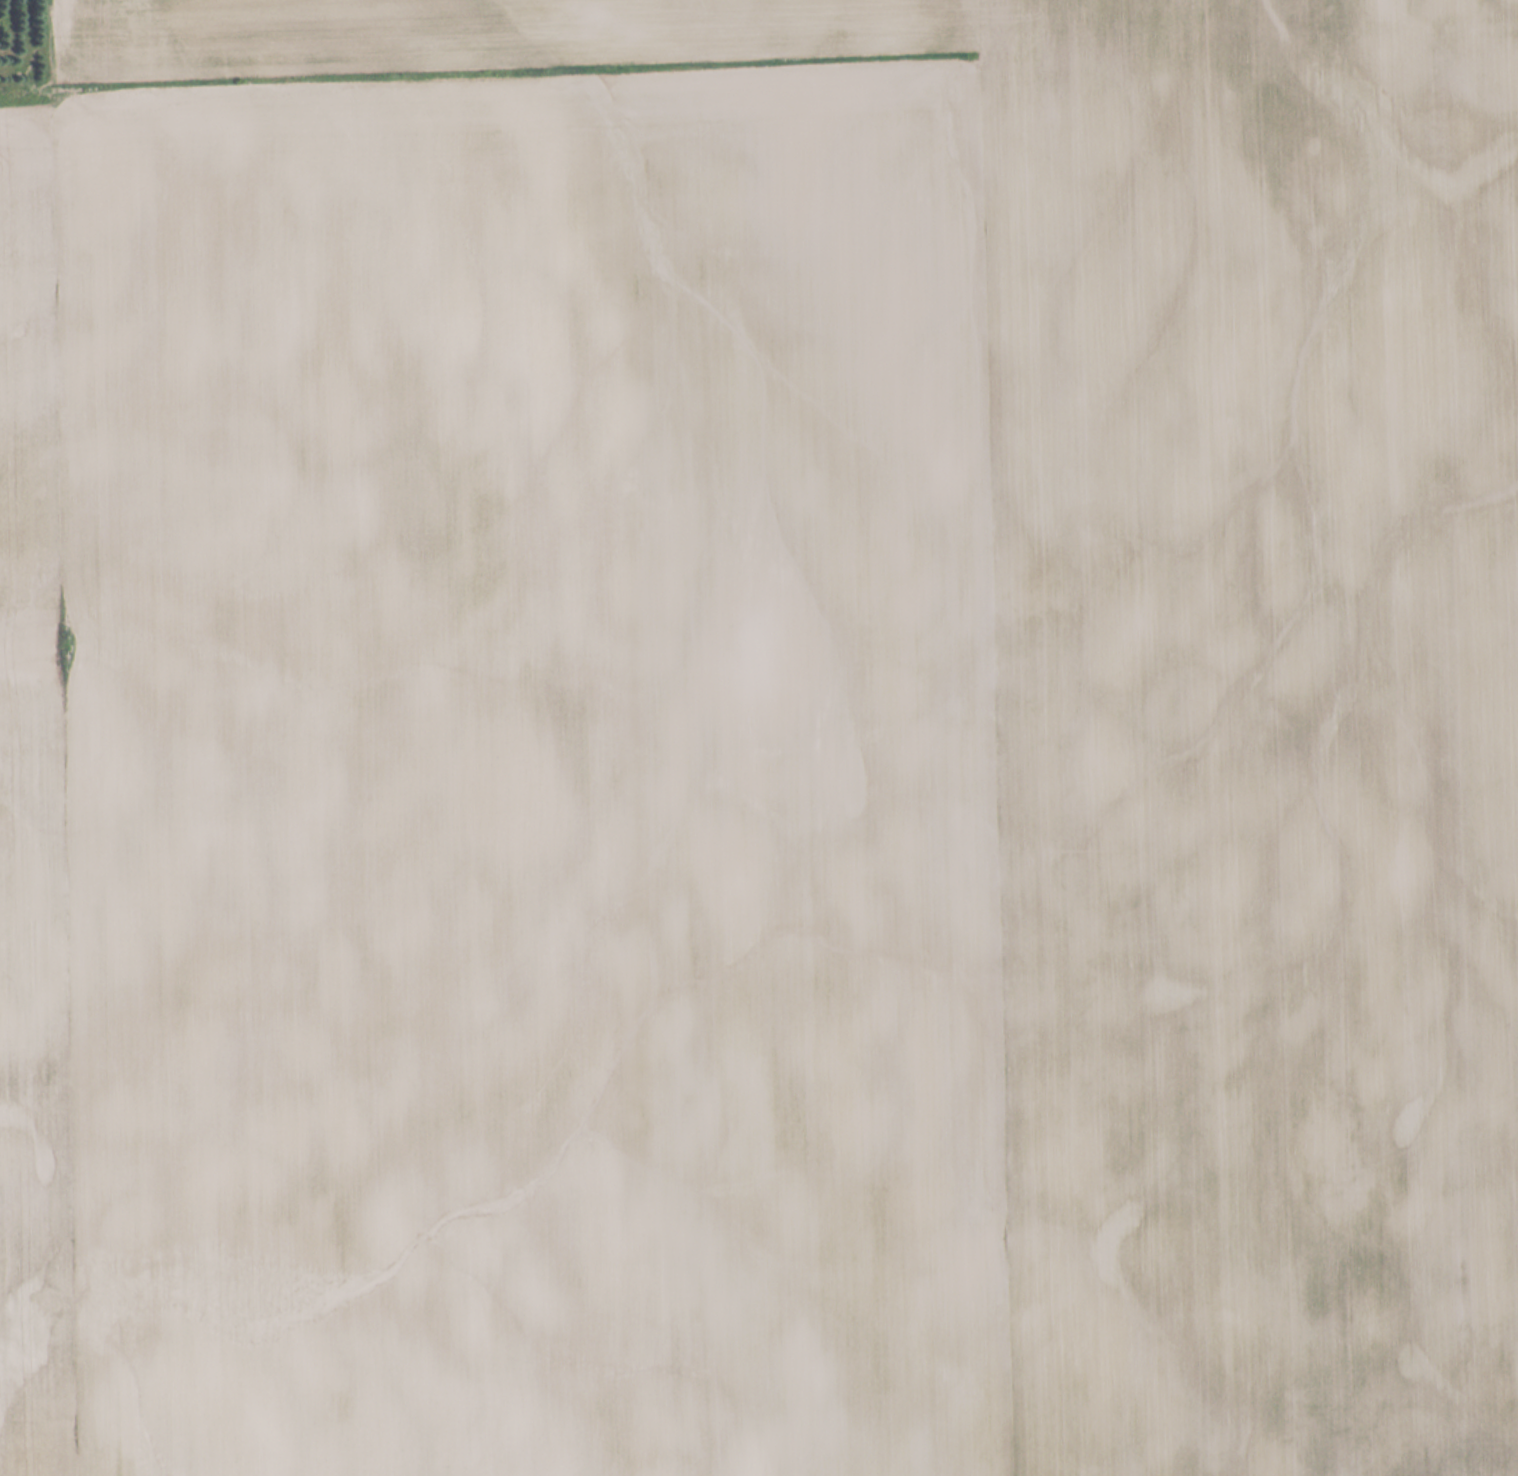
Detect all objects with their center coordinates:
road: (1246, 53)

